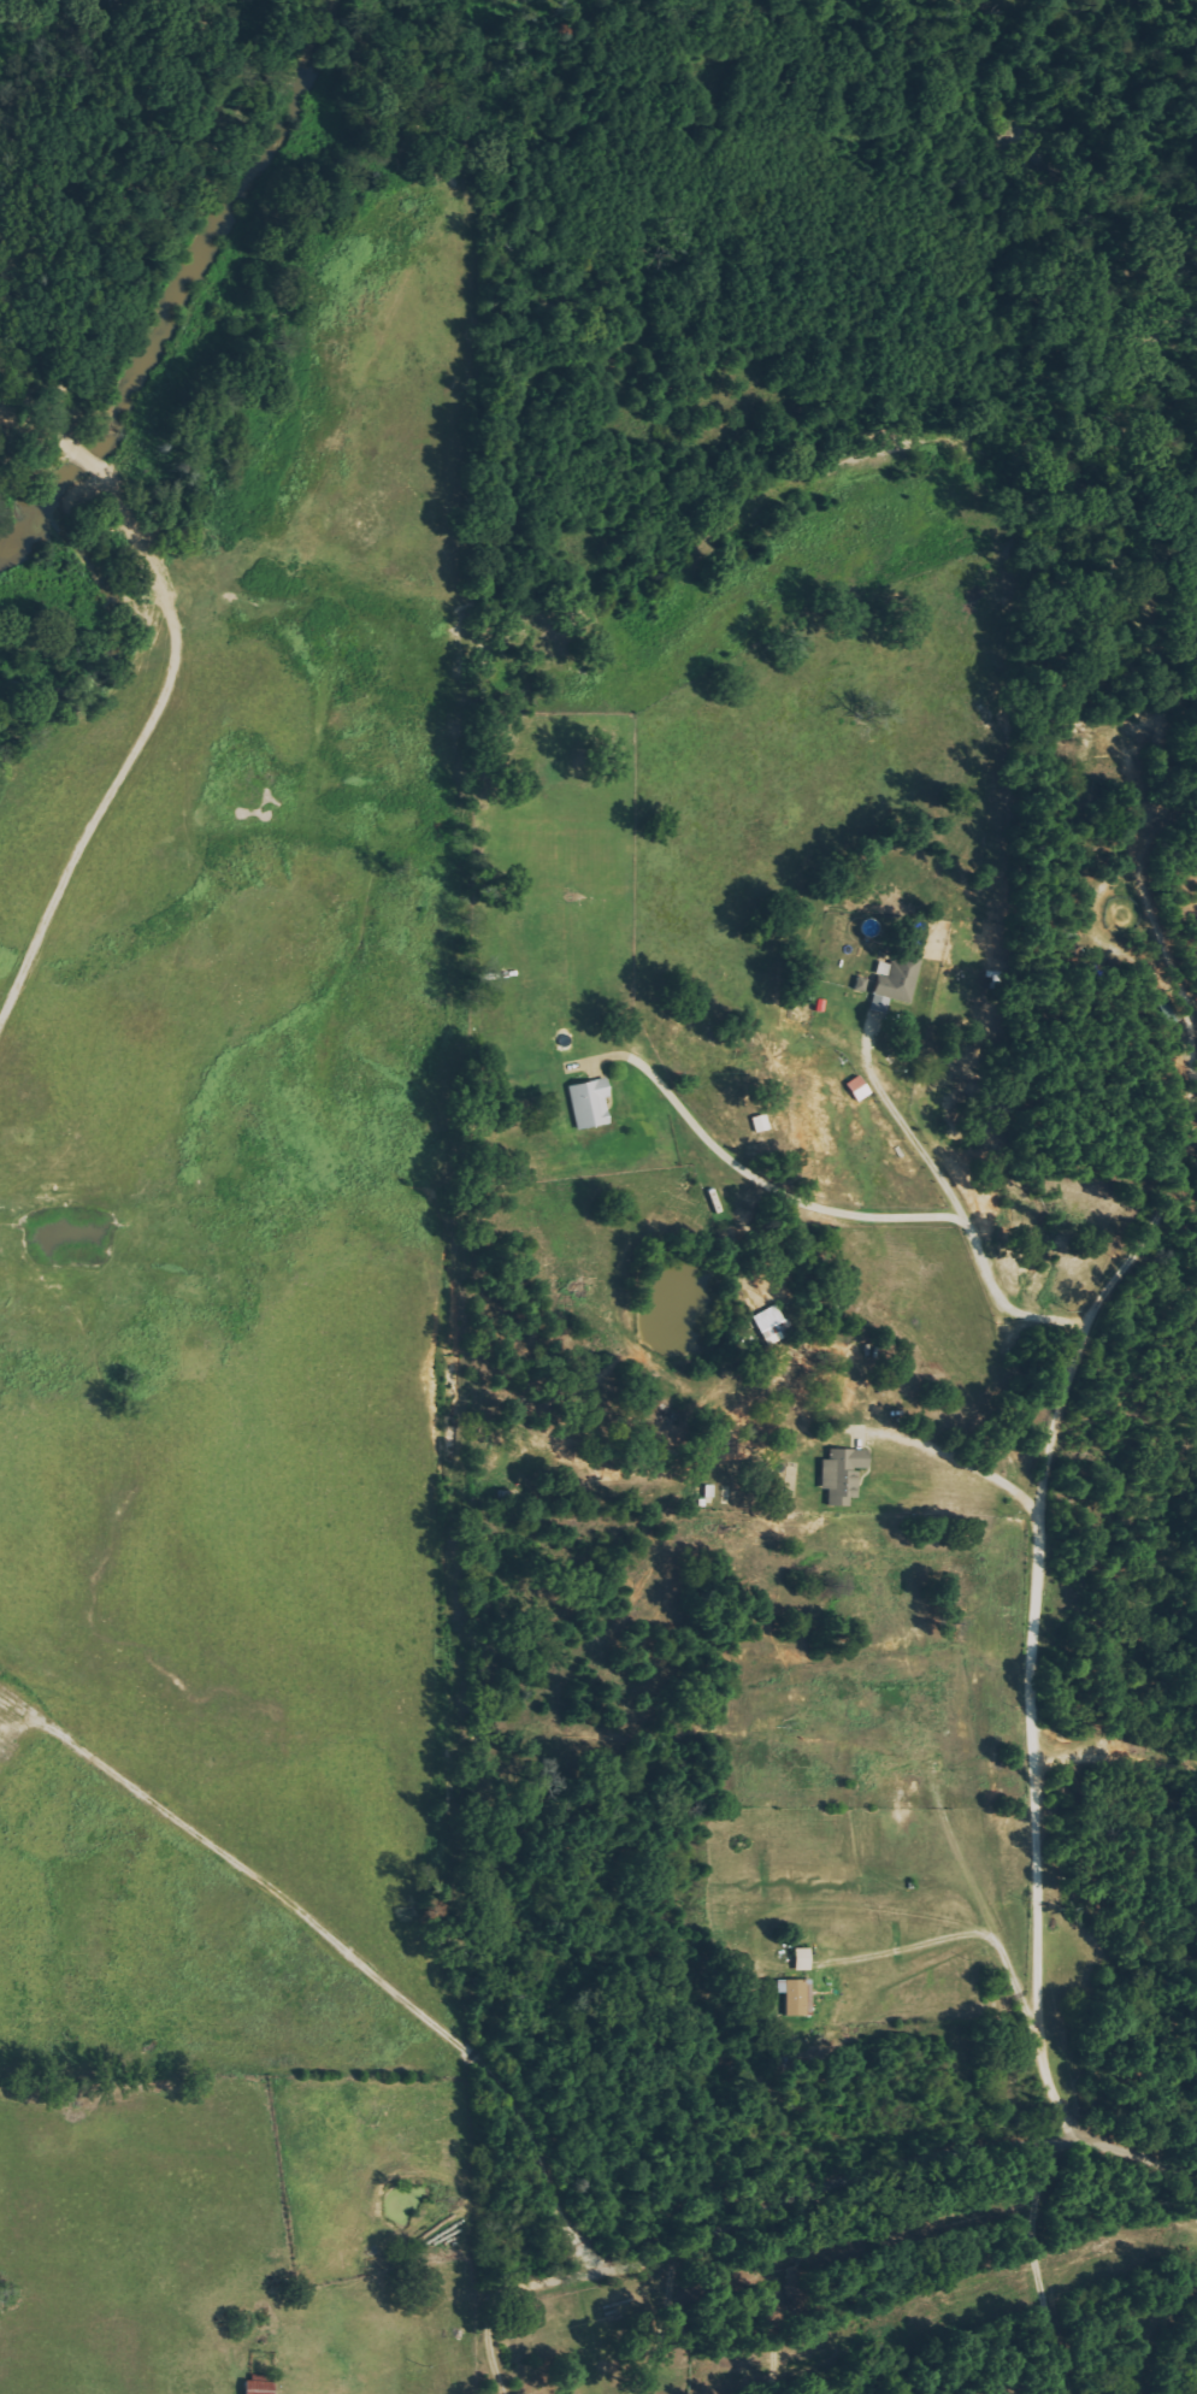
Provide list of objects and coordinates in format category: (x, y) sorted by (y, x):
building: (859, 985)
building: (891, 986)
building: (855, 1089)
building: (586, 1103)
road: (1067, 1381)
building: (839, 1475)
building: (798, 1960)
building: (794, 1998)
road: (881, 2171)
building: (254, 2386)

